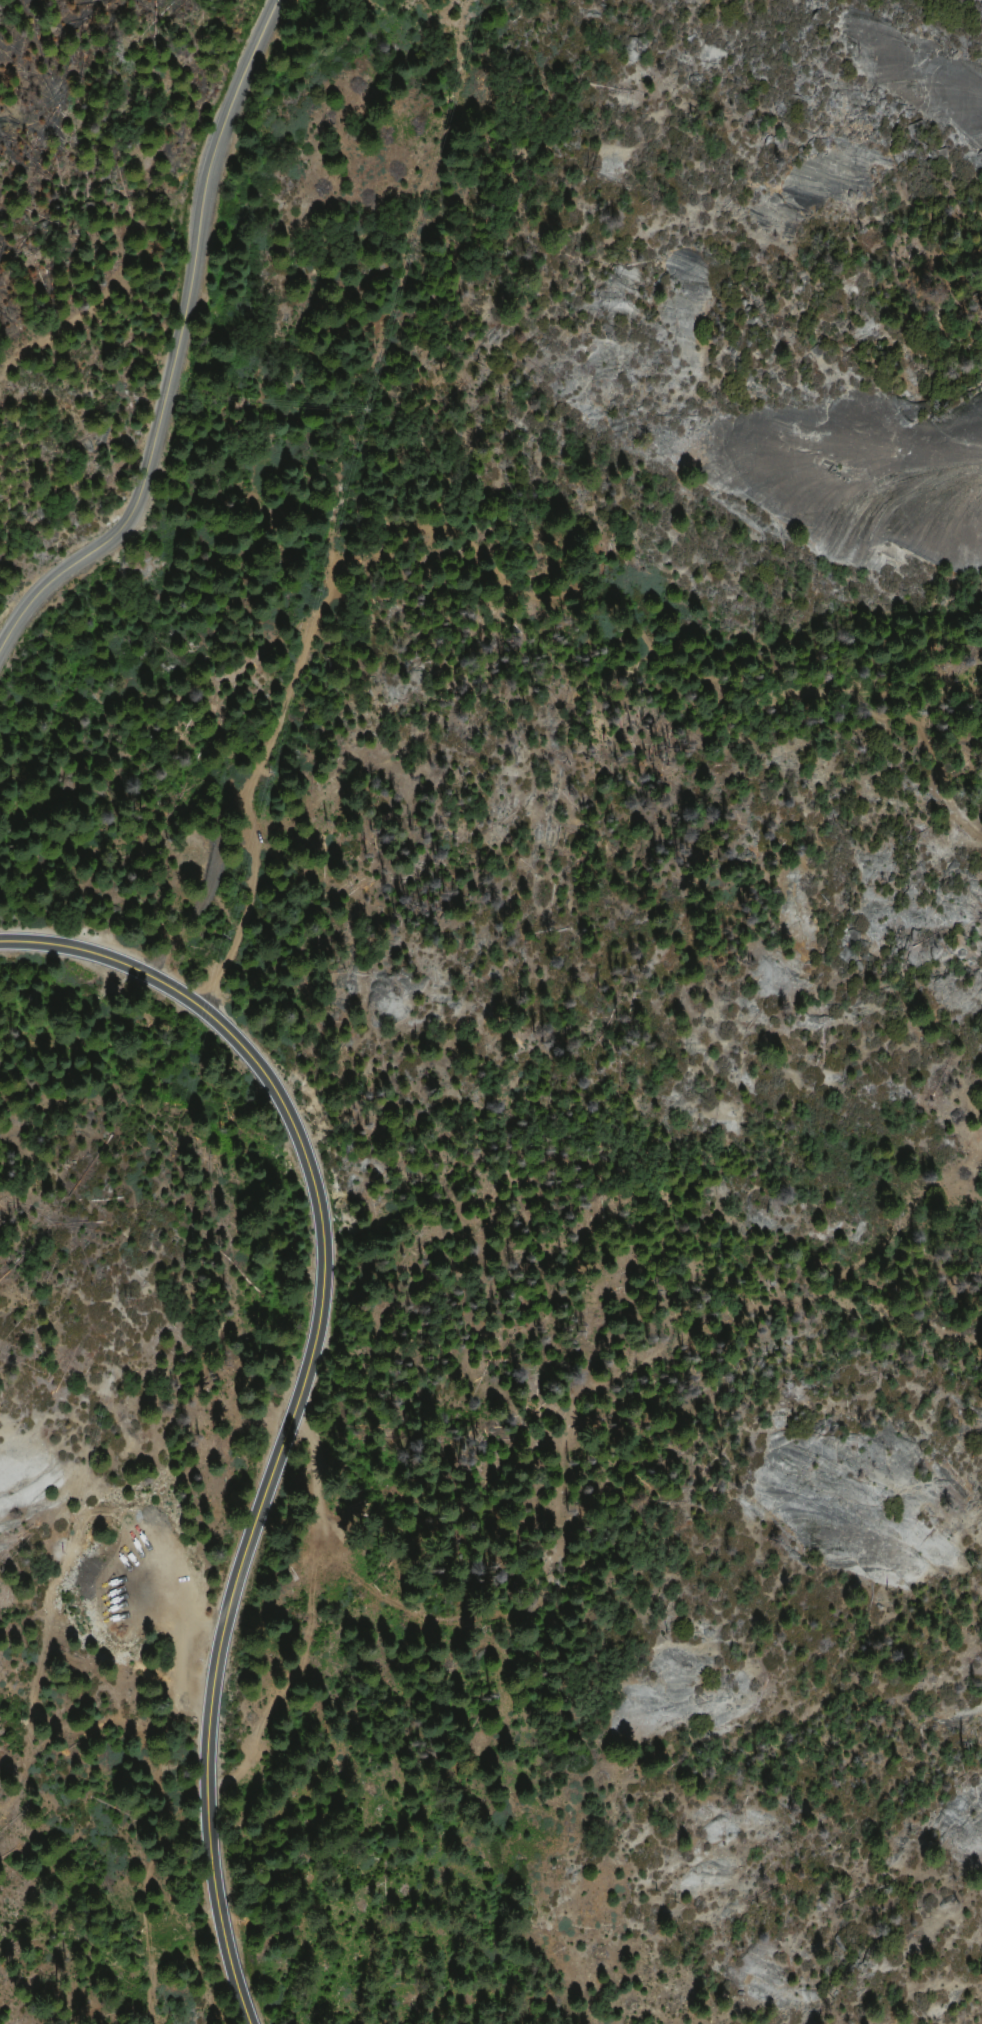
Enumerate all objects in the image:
road: (179, 350)
road: (297, 1396)

